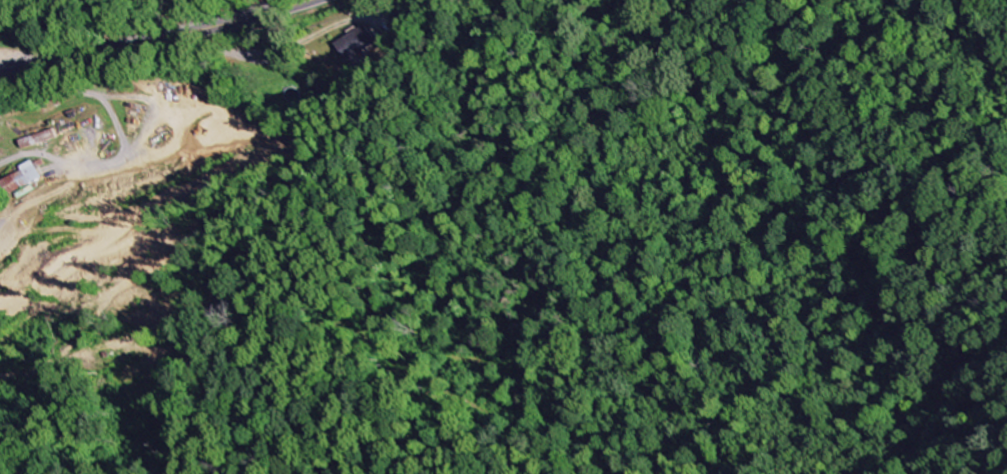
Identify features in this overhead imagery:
road: (153, 40)
building: (358, 43)
building: (22, 177)

